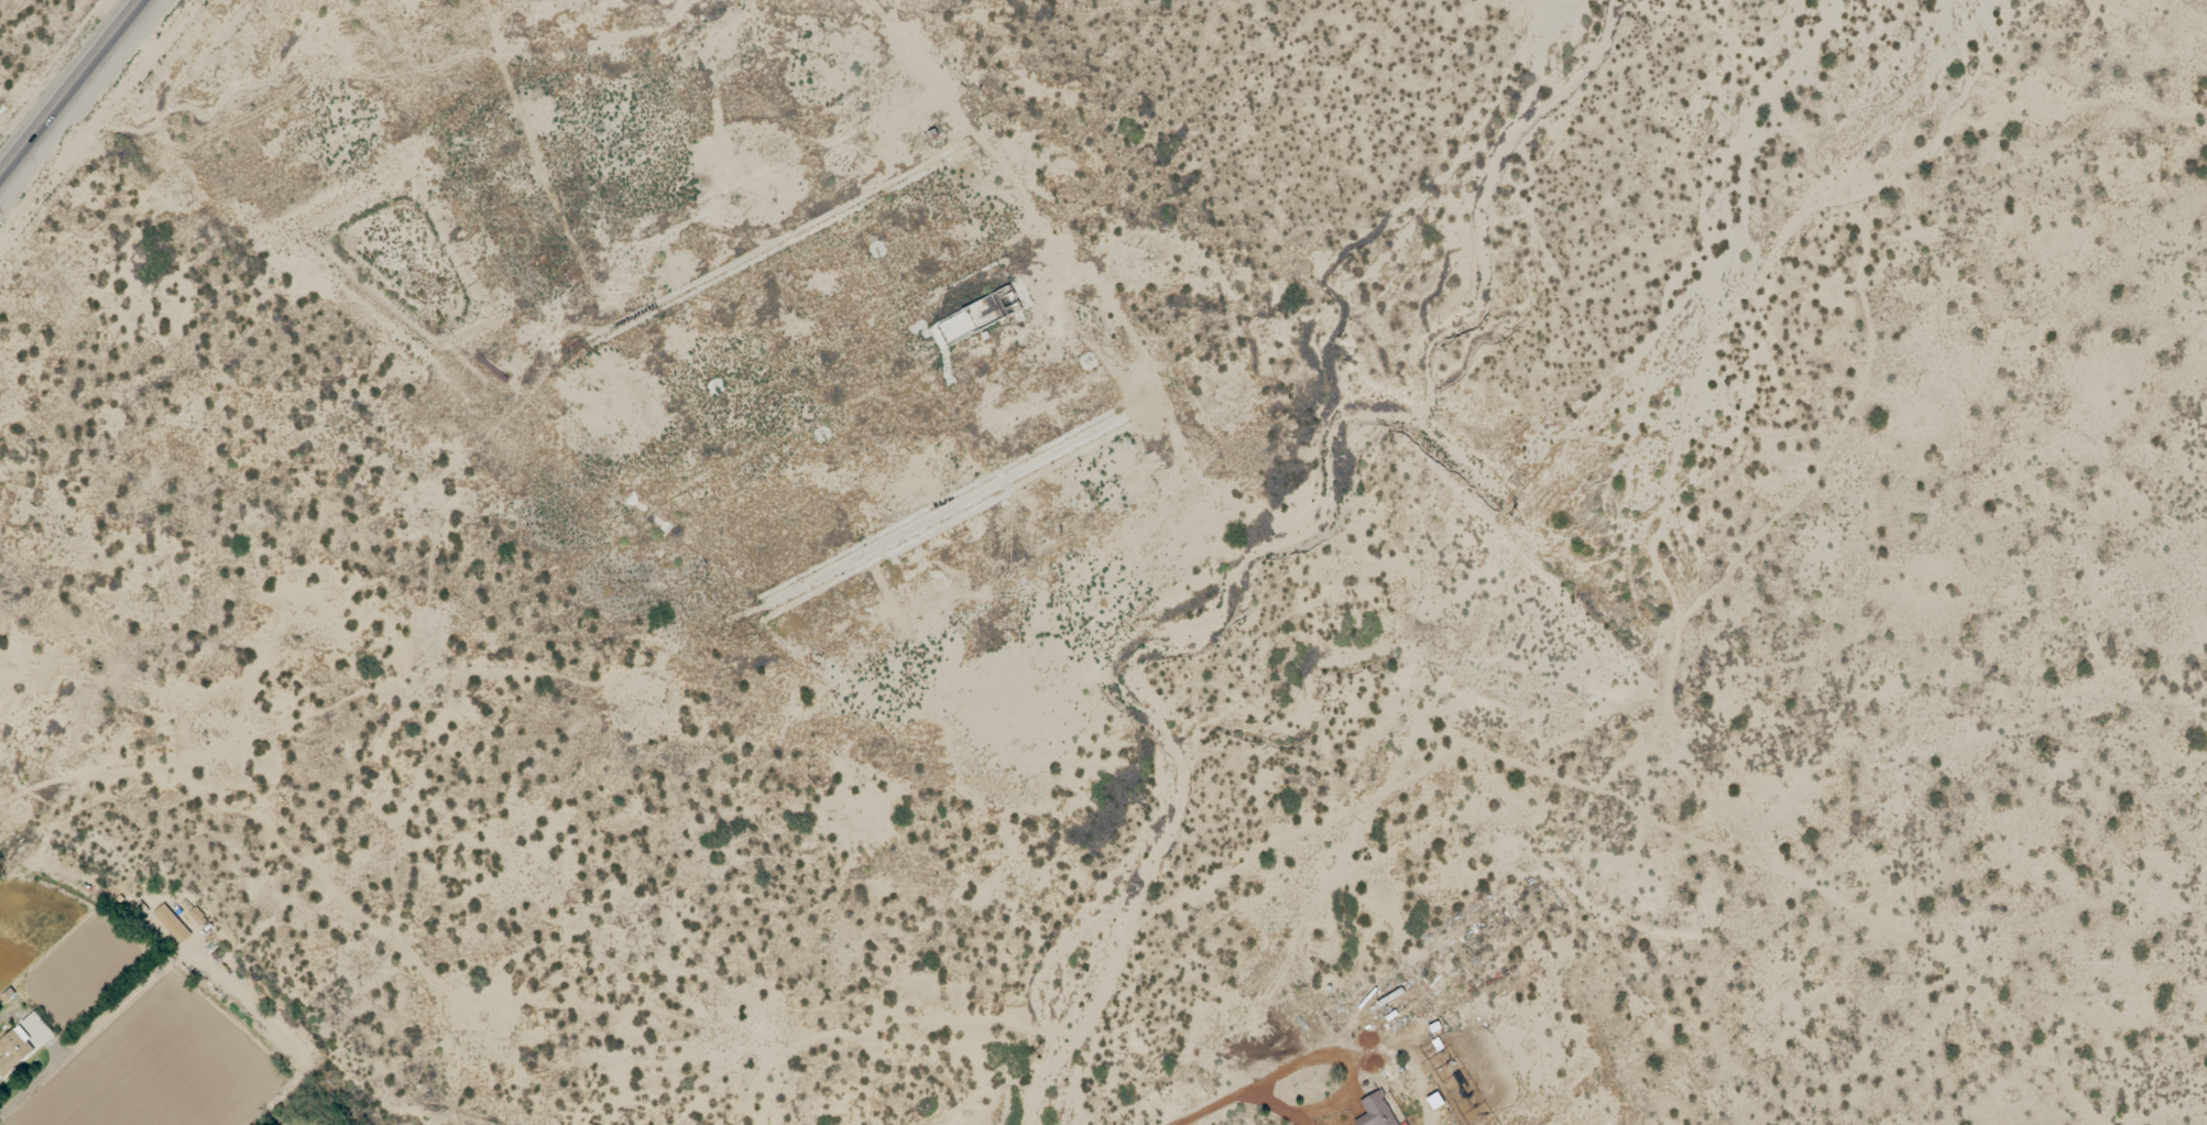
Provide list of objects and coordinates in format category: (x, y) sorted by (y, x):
road: (109, 40)
road: (39, 128)
building: (196, 917)
building: (172, 925)
building: (37, 1029)
building: (14, 1051)
road: (2181, 1097)
building: (1376, 1111)

